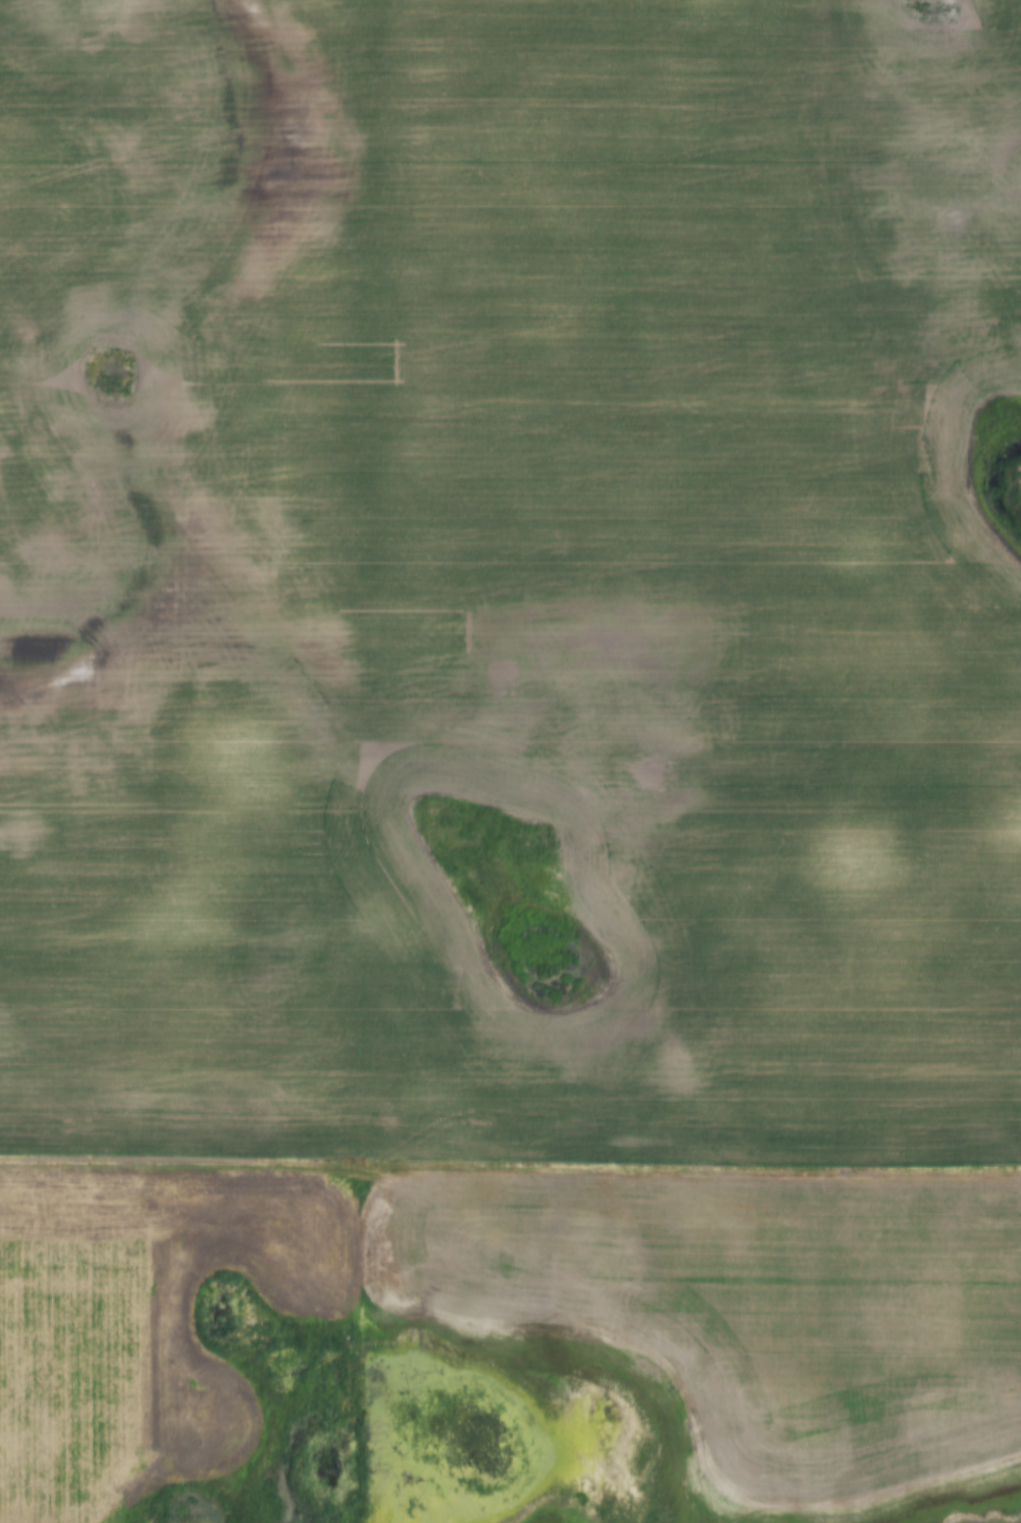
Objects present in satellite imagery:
road: (510, 1165)

